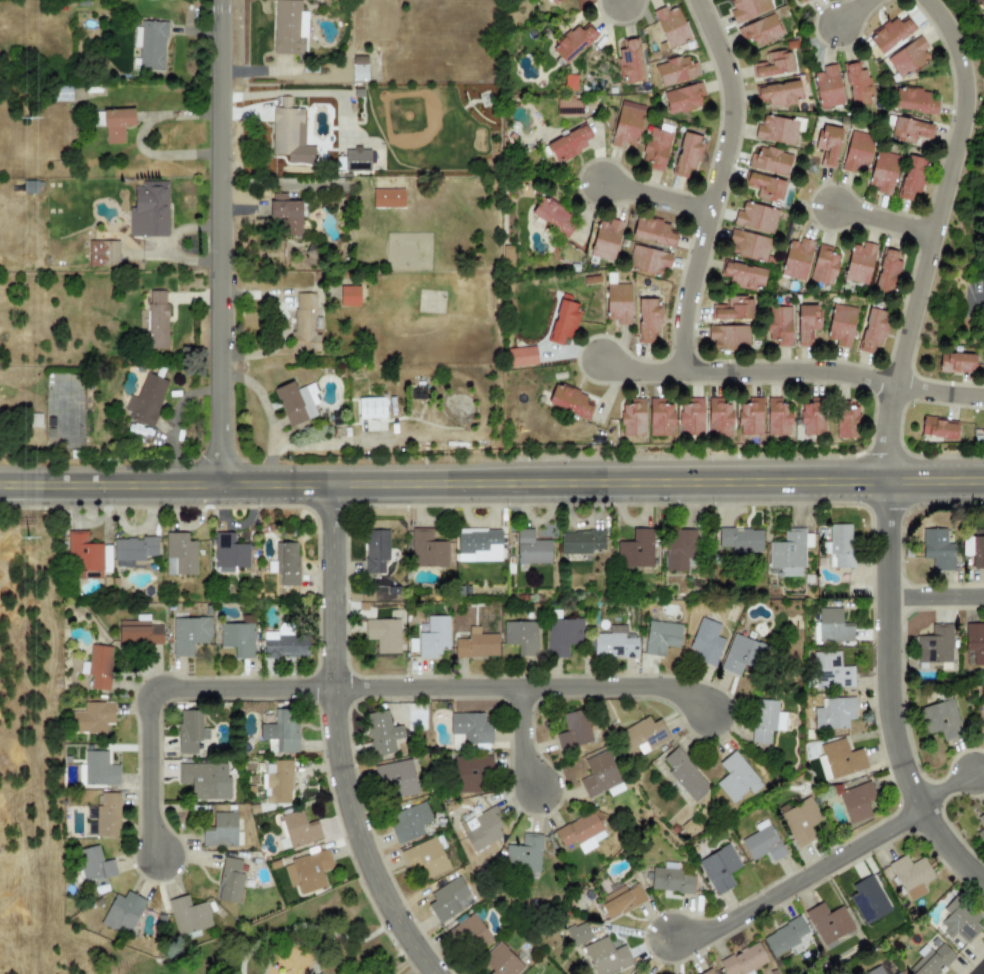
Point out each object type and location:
building: (789, 0)
building: (801, 0)
building: (553, 2)
building: (978, 4)
building: (747, 9)
road: (854, 10)
building: (670, 26)
building: (292, 28)
building: (759, 30)
building: (890, 34)
building: (572, 43)
building: (153, 48)
building: (908, 57)
building: (629, 61)
building: (774, 64)
building: (311, 67)
building: (360, 68)
building: (675, 71)
building: (856, 85)
building: (827, 87)
building: (778, 93)
building: (64, 97)
building: (682, 98)
building: (912, 101)
building: (568, 108)
building: (625, 125)
building: (911, 129)
building: (123, 130)
building: (777, 130)
building: (290, 135)
building: (567, 143)
building: (827, 144)
building: (655, 147)
building: (856, 152)
building: (686, 154)
building: (357, 161)
building: (769, 161)
building: (882, 172)
building: (911, 177)
road: (719, 182)
building: (766, 187)
road: (950, 188)
road: (659, 193)
building: (279, 197)
building: (388, 197)
building: (152, 212)
building: (552, 216)
road: (888, 216)
building: (755, 217)
building: (286, 218)
building: (652, 232)
building: (605, 240)
road: (224, 242)
building: (747, 246)
building: (75, 249)
building: (104, 253)
building: (796, 259)
building: (647, 261)
building: (859, 263)
building: (887, 270)
building: (743, 275)
building: (349, 296)
building: (617, 303)
building: (733, 309)
road: (970, 313)
building: (563, 319)
building: (647, 319)
building: (157, 320)
building: (807, 322)
building: (304, 324)
building: (840, 325)
building: (778, 326)
building: (872, 329)
building: (730, 336)
building: (520, 356)
building: (955, 363)
road: (643, 369)
road: (794, 369)
building: (60, 380)
building: (54, 381)
road: (942, 388)
building: (148, 397)
building: (297, 401)
building: (568, 401)
building: (274, 406)
building: (370, 408)
road: (269, 417)
building: (691, 417)
building: (749, 417)
building: (776, 417)
building: (632, 418)
building: (659, 418)
building: (718, 418)
building: (812, 419)
building: (846, 422)
building: (302, 427)
road: (885, 427)
building: (936, 428)
building: (141, 432)
building: (347, 432)
road: (329, 444)
building: (76, 455)
road: (492, 482)
building: (739, 539)
building: (581, 542)
building: (478, 545)
building: (839, 547)
building: (530, 549)
building: (678, 549)
building: (427, 550)
building: (635, 550)
building: (937, 550)
building: (974, 550)
building: (133, 551)
building: (375, 552)
building: (789, 552)
building: (229, 554)
building: (179, 555)
building: (286, 564)
road: (934, 591)
building: (832, 627)
building: (138, 631)
building: (383, 634)
building: (189, 635)
building: (563, 636)
building: (433, 637)
building: (521, 637)
building: (660, 637)
building: (237, 639)
building: (705, 641)
building: (975, 642)
building: (614, 643)
building: (476, 645)
building: (934, 646)
building: (741, 654)
building: (99, 667)
building: (830, 672)
road: (518, 683)
road: (153, 685)
road: (886, 692)
building: (834, 713)
building: (93, 717)
building: (939, 719)
building: (765, 720)
building: (470, 728)
building: (574, 730)
building: (281, 731)
building: (186, 733)
building: (381, 734)
building: (643, 735)
road: (527, 736)
road: (334, 741)
building: (841, 759)
building: (97, 769)
building: (469, 772)
building: (600, 776)
building: (736, 777)
building: (397, 778)
building: (205, 781)
building: (278, 782)
building: (856, 801)
building: (107, 815)
building: (799, 821)
building: (408, 822)
building: (981, 828)
building: (298, 829)
building: (483, 829)
building: (220, 830)
building: (580, 832)
building: (762, 842)
building: (524, 855)
building: (425, 857)
road: (820, 862)
building: (93, 864)
building: (719, 868)
building: (307, 871)
building: (910, 876)
building: (229, 881)
building: (670, 881)
building: (448, 899)
building: (621, 900)
building: (868, 900)
building: (122, 914)
building: (188, 916)
building: (959, 921)
building: (829, 924)
building: (470, 935)
building: (579, 935)
building: (784, 936)
building: (607, 957)
building: (931, 958)
building: (500, 961)
building: (744, 961)
road: (977, 967)
building: (874, 970)
building: (636, 972)
building: (707, 972)
building: (898, 973)

